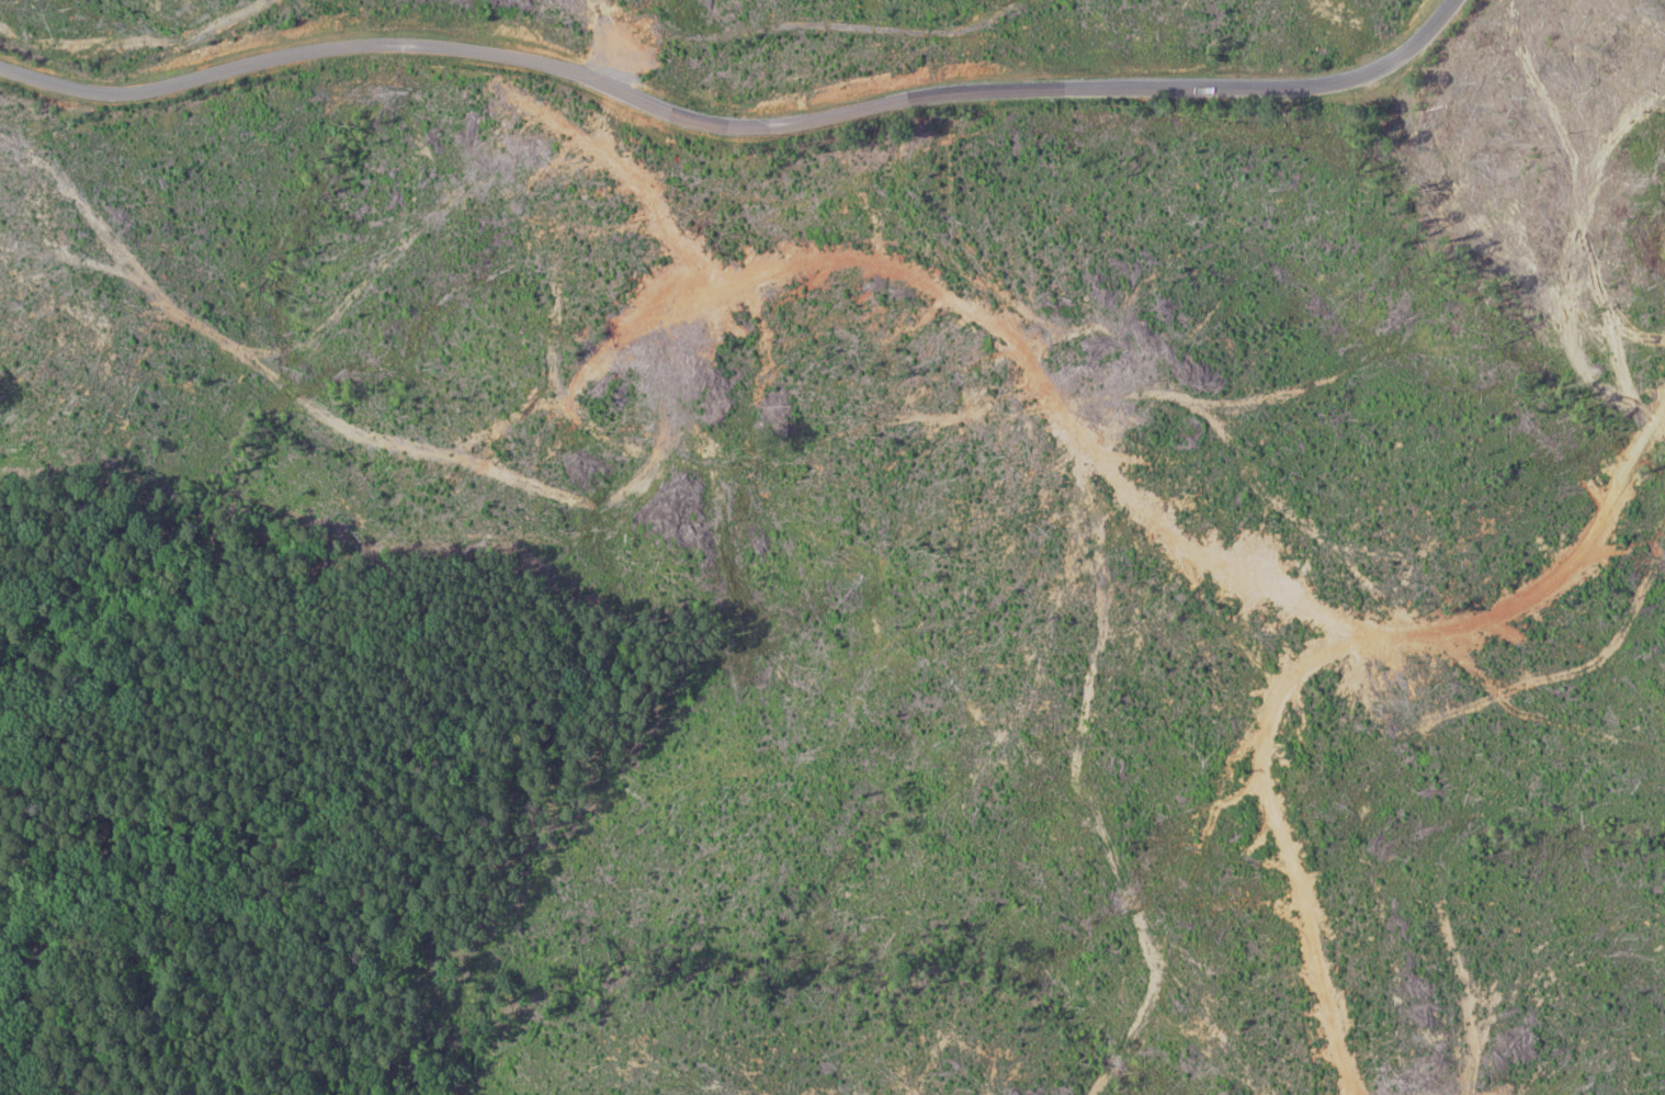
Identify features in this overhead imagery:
road: (735, 123)

